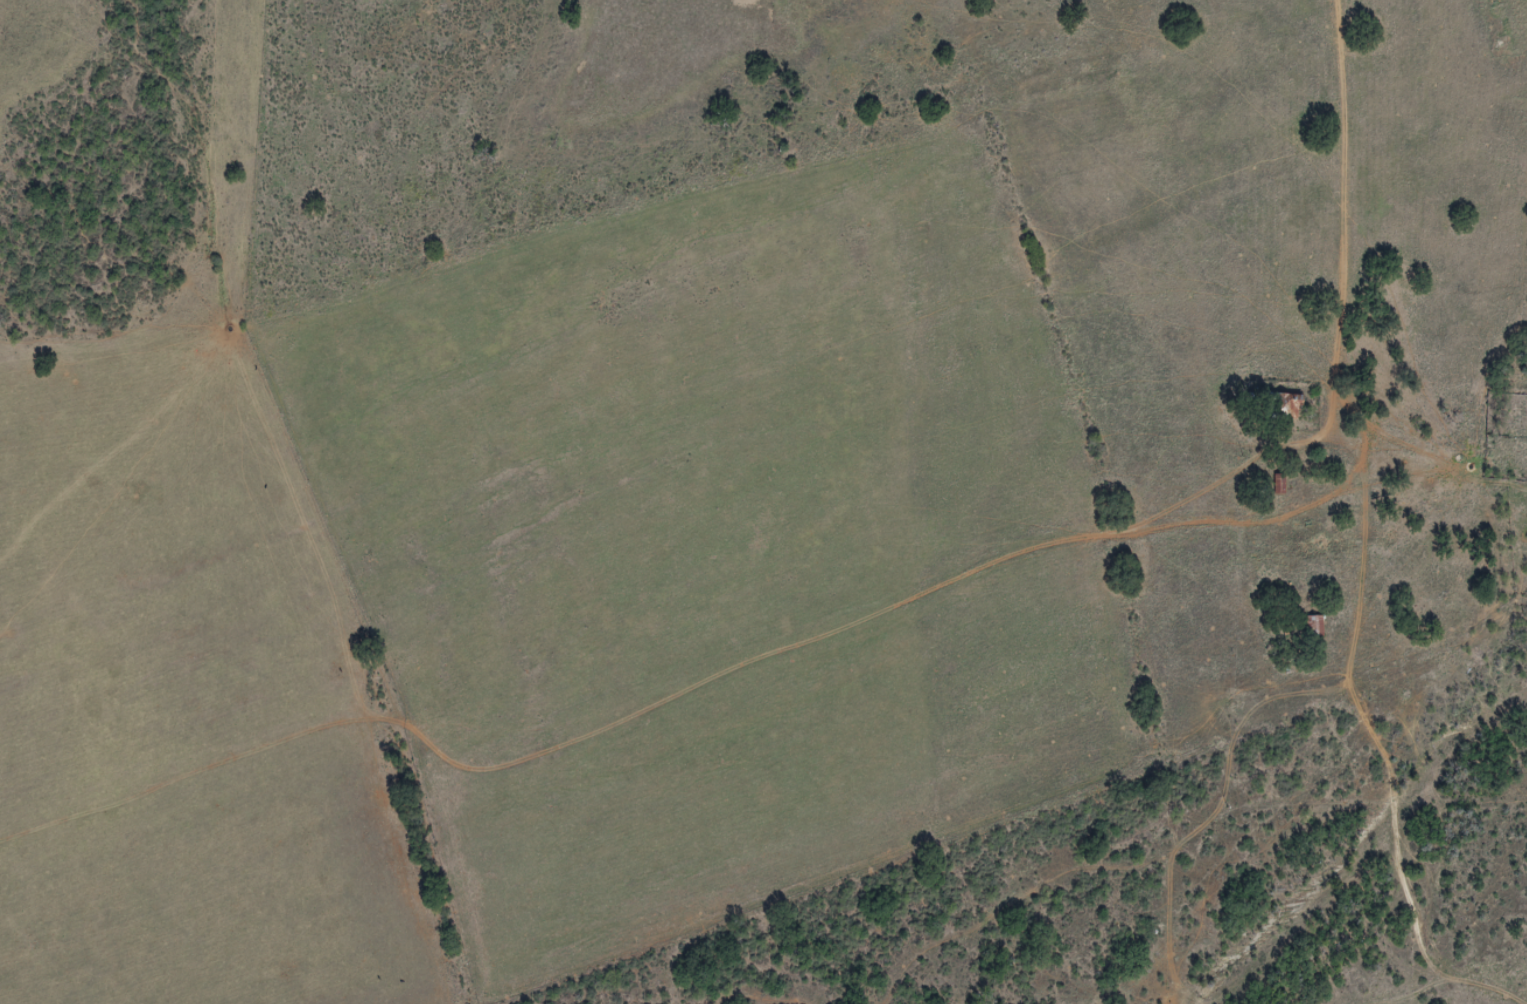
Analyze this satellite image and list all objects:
building: (1283, 406)
building: (1275, 483)
building: (1312, 625)

